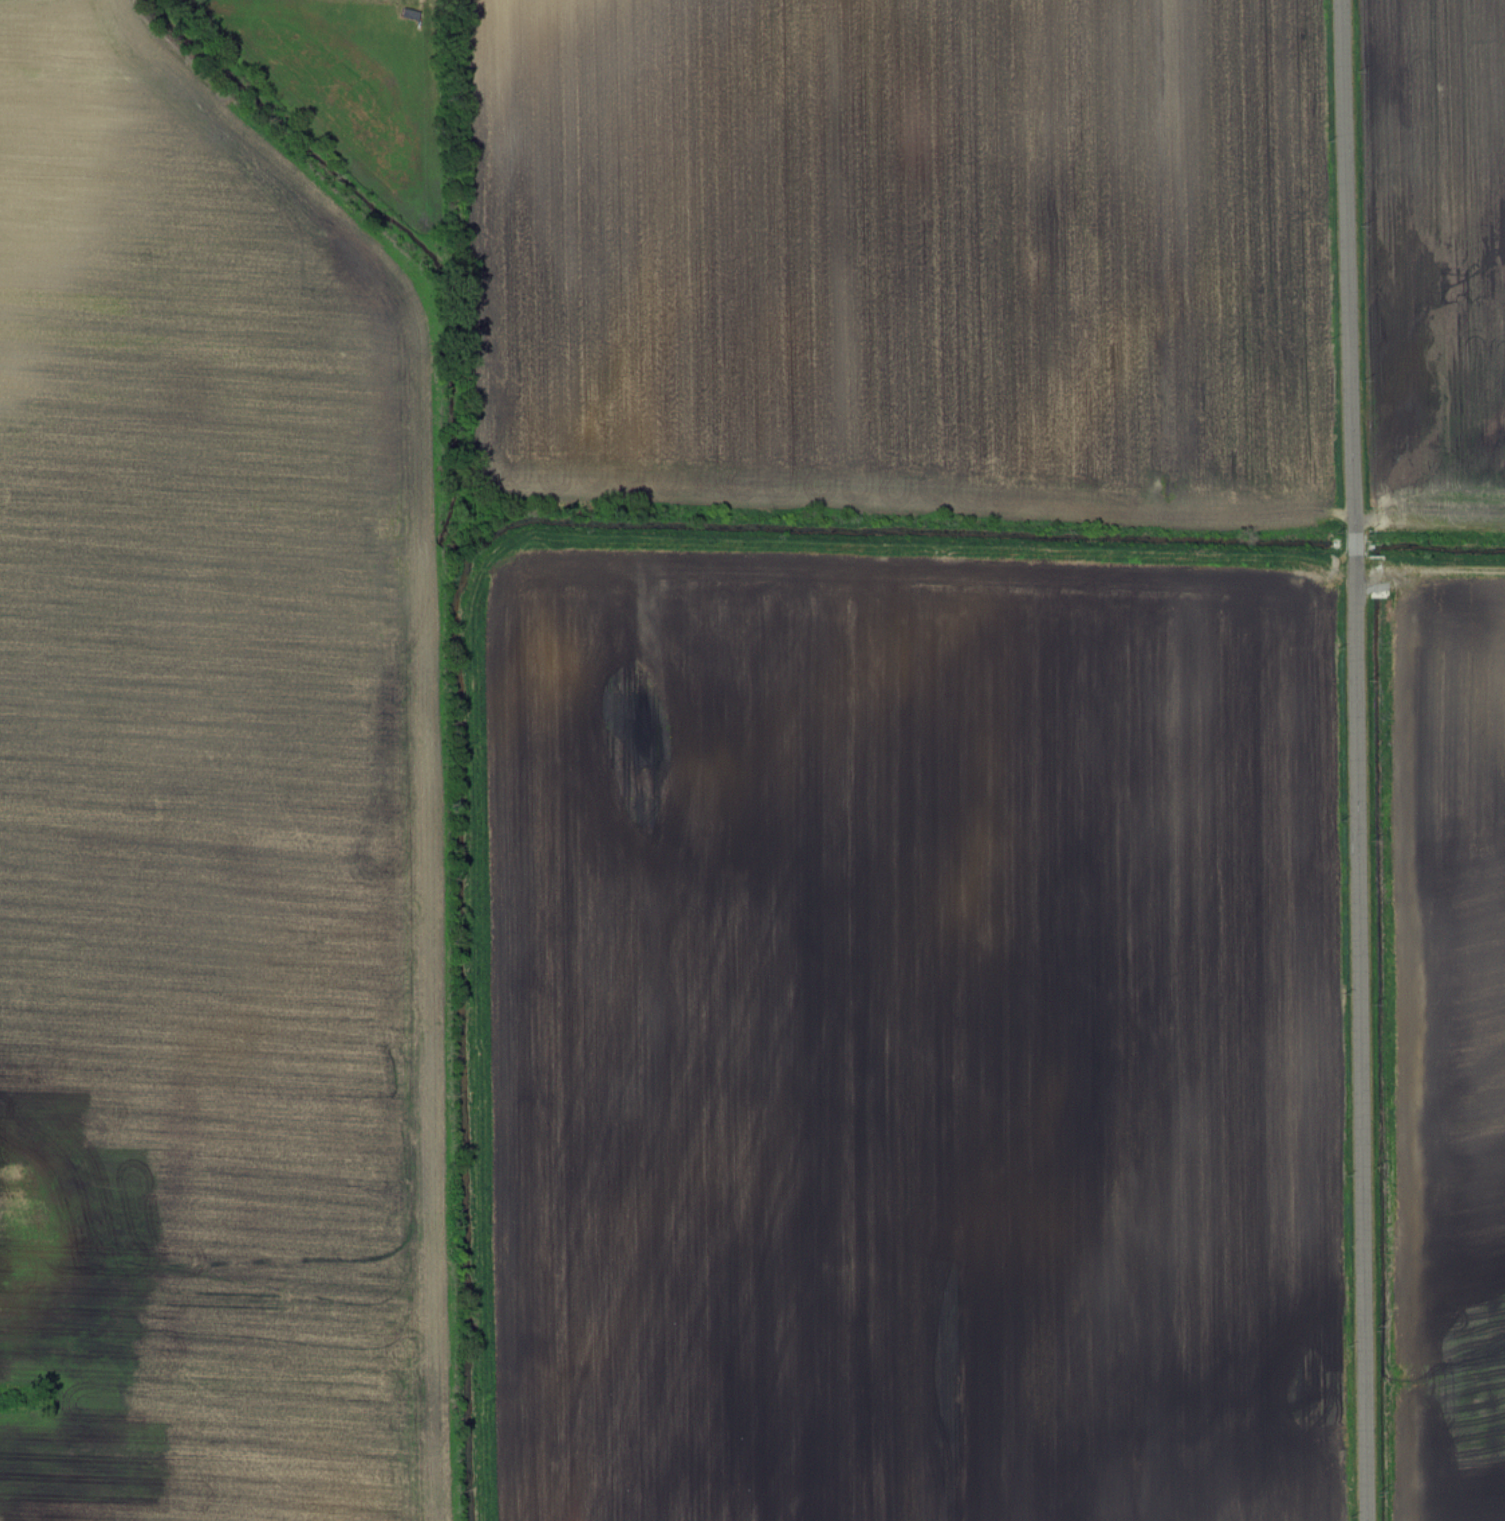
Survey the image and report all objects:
road: (1359, 760)

